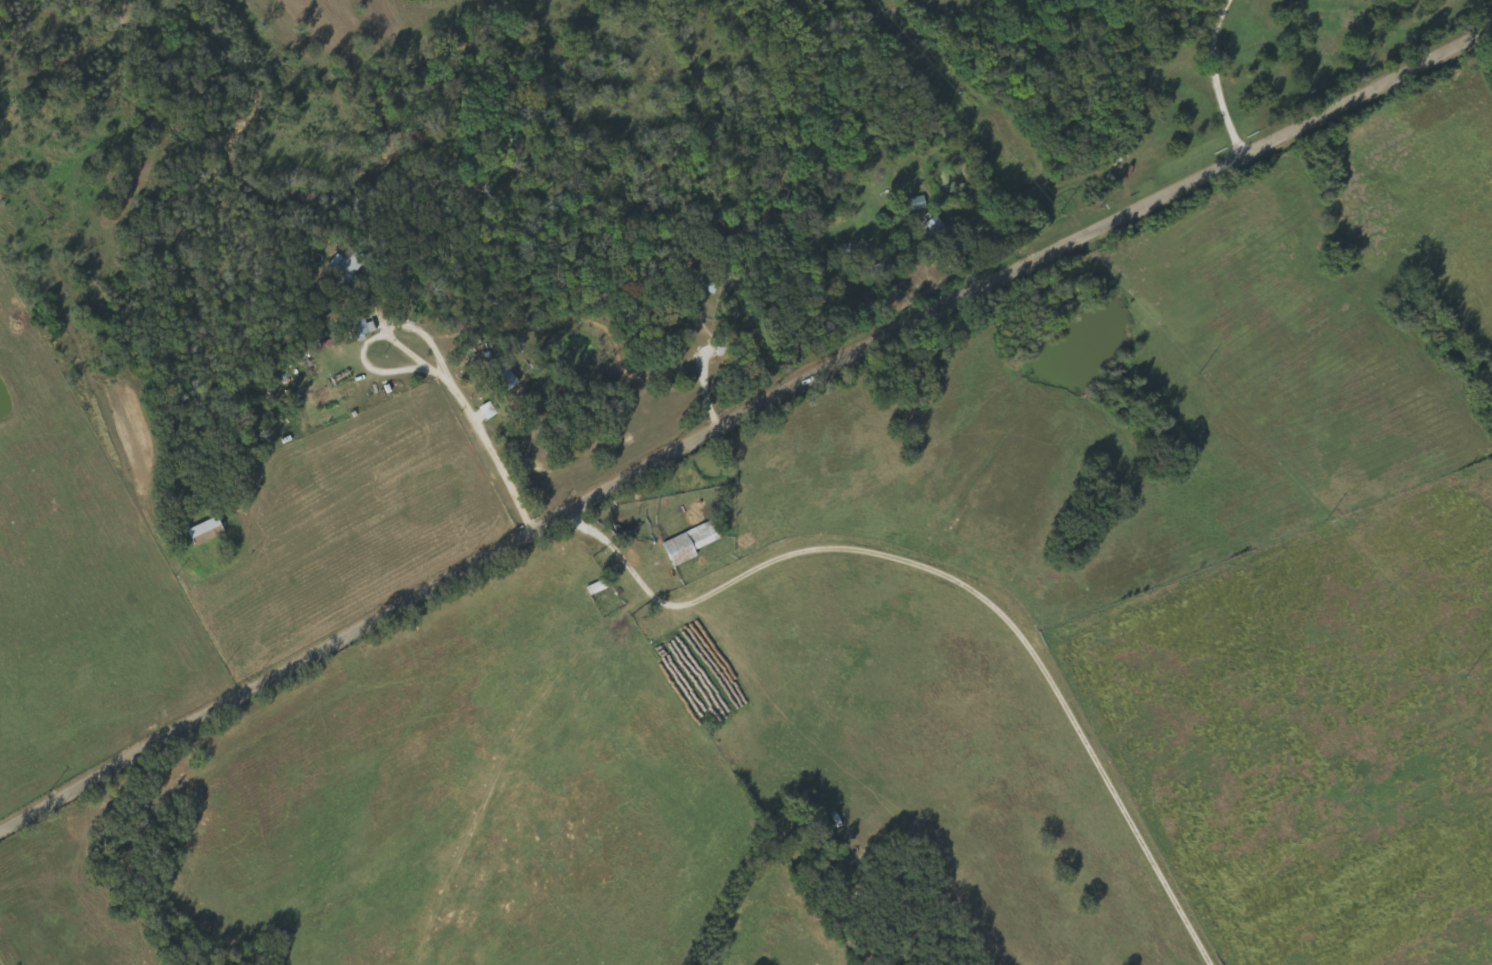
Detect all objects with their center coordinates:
building: (919, 204)
building: (939, 228)
building: (350, 266)
building: (705, 281)
building: (362, 327)
building: (323, 347)
building: (344, 378)
road: (363, 407)
road: (737, 417)
building: (208, 532)
building: (693, 544)
road: (17, 787)
road: (7, 951)

